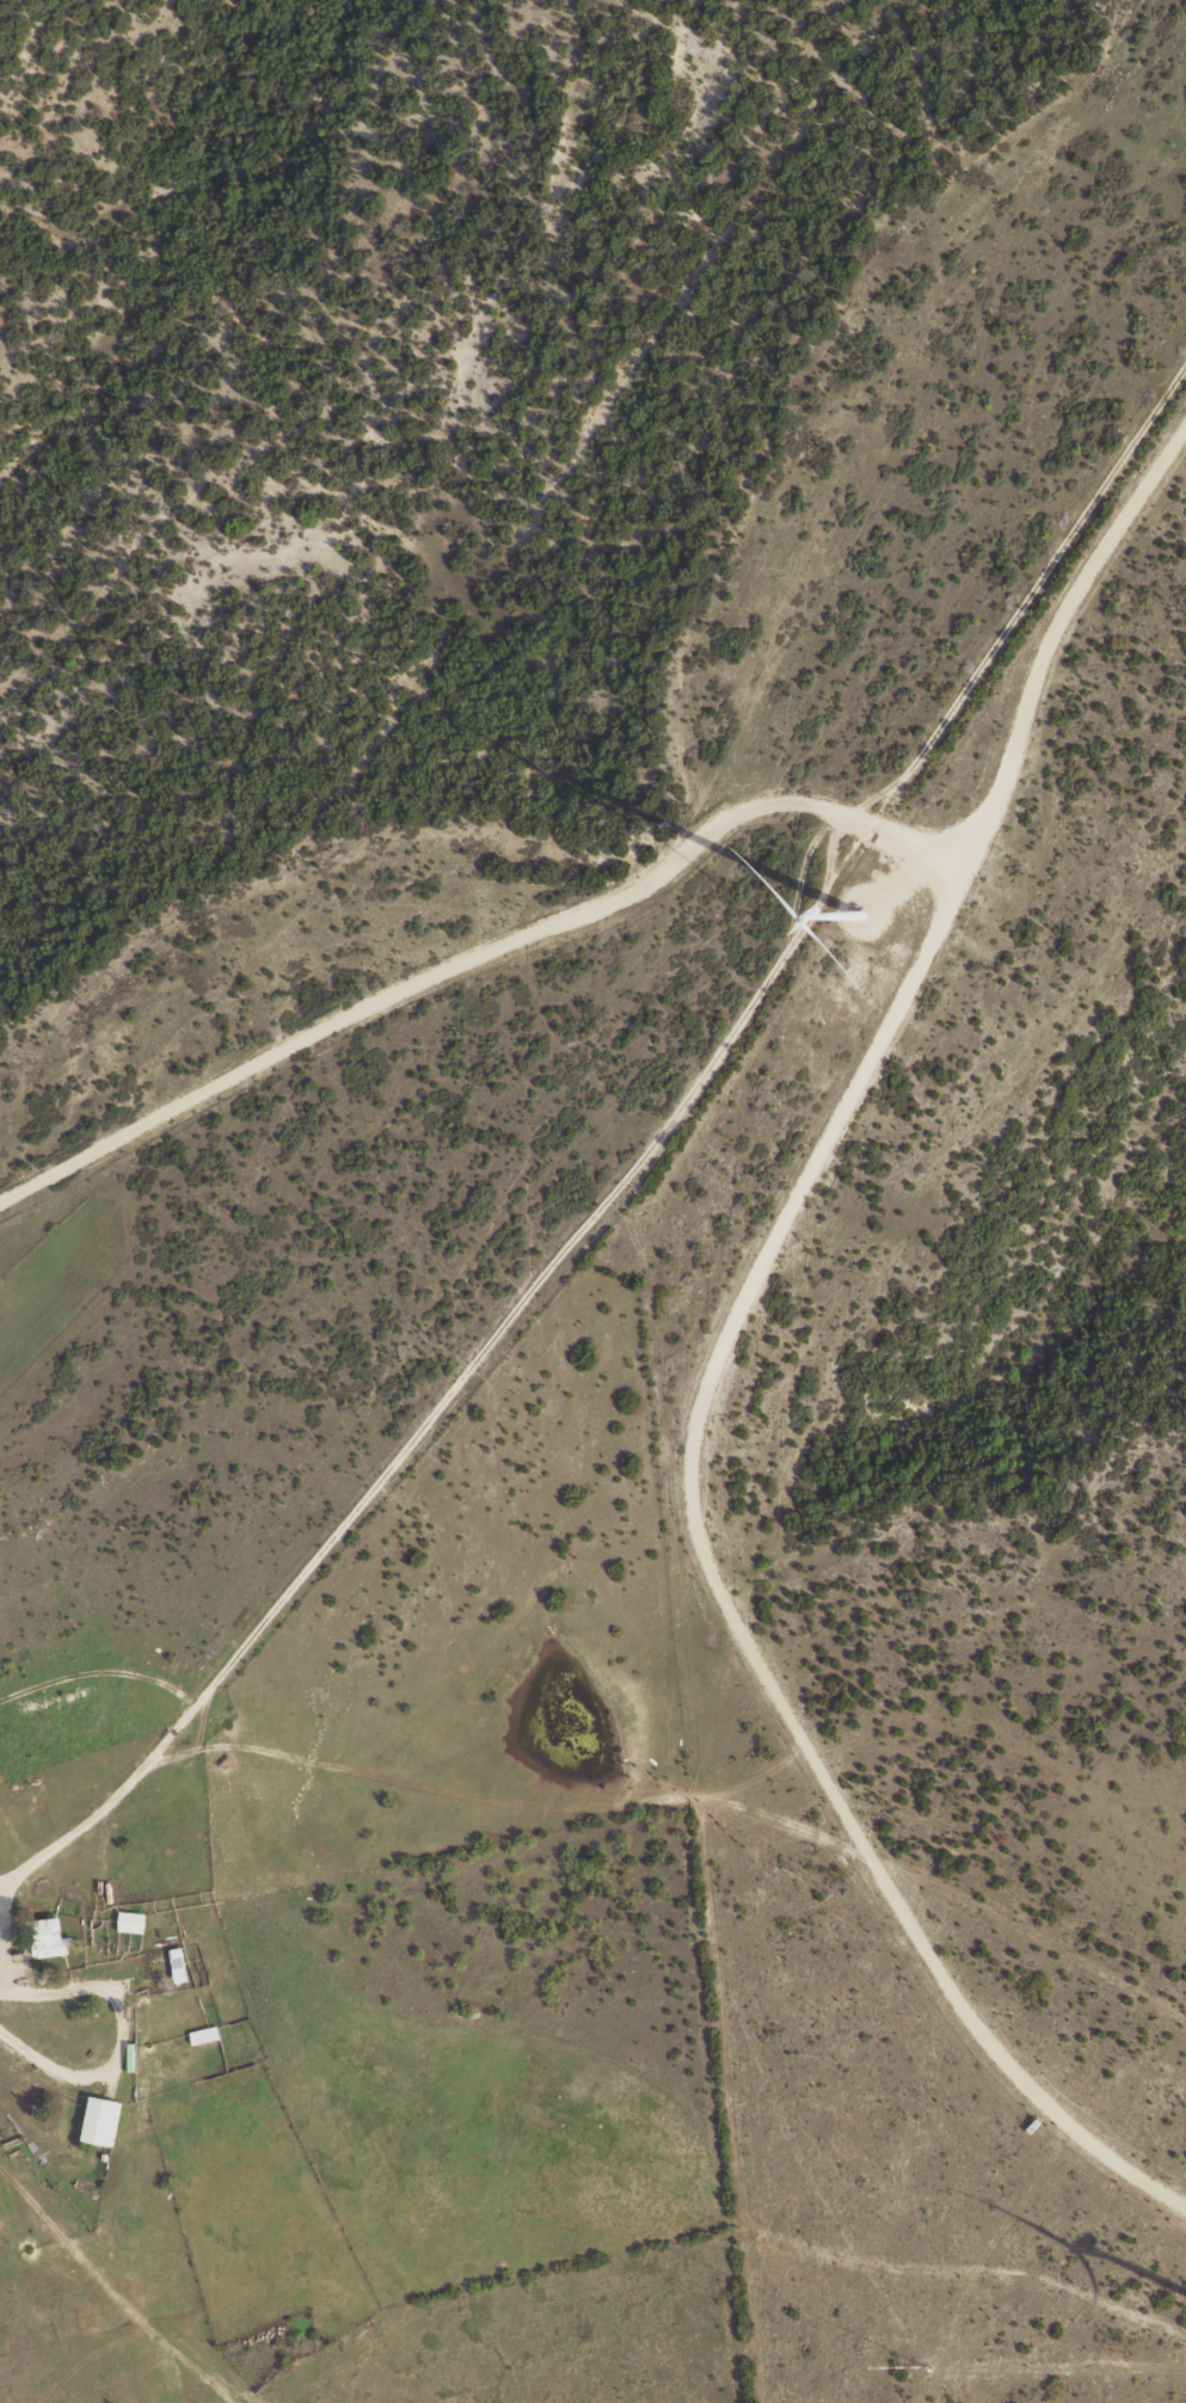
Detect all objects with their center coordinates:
wind turbine: (860, 915)
road: (480, 954)
road: (720, 1351)
building: (131, 1922)
road: (1, 1930)
building: (50, 1937)
road: (119, 2034)
building: (205, 2035)
building: (102, 2120)

